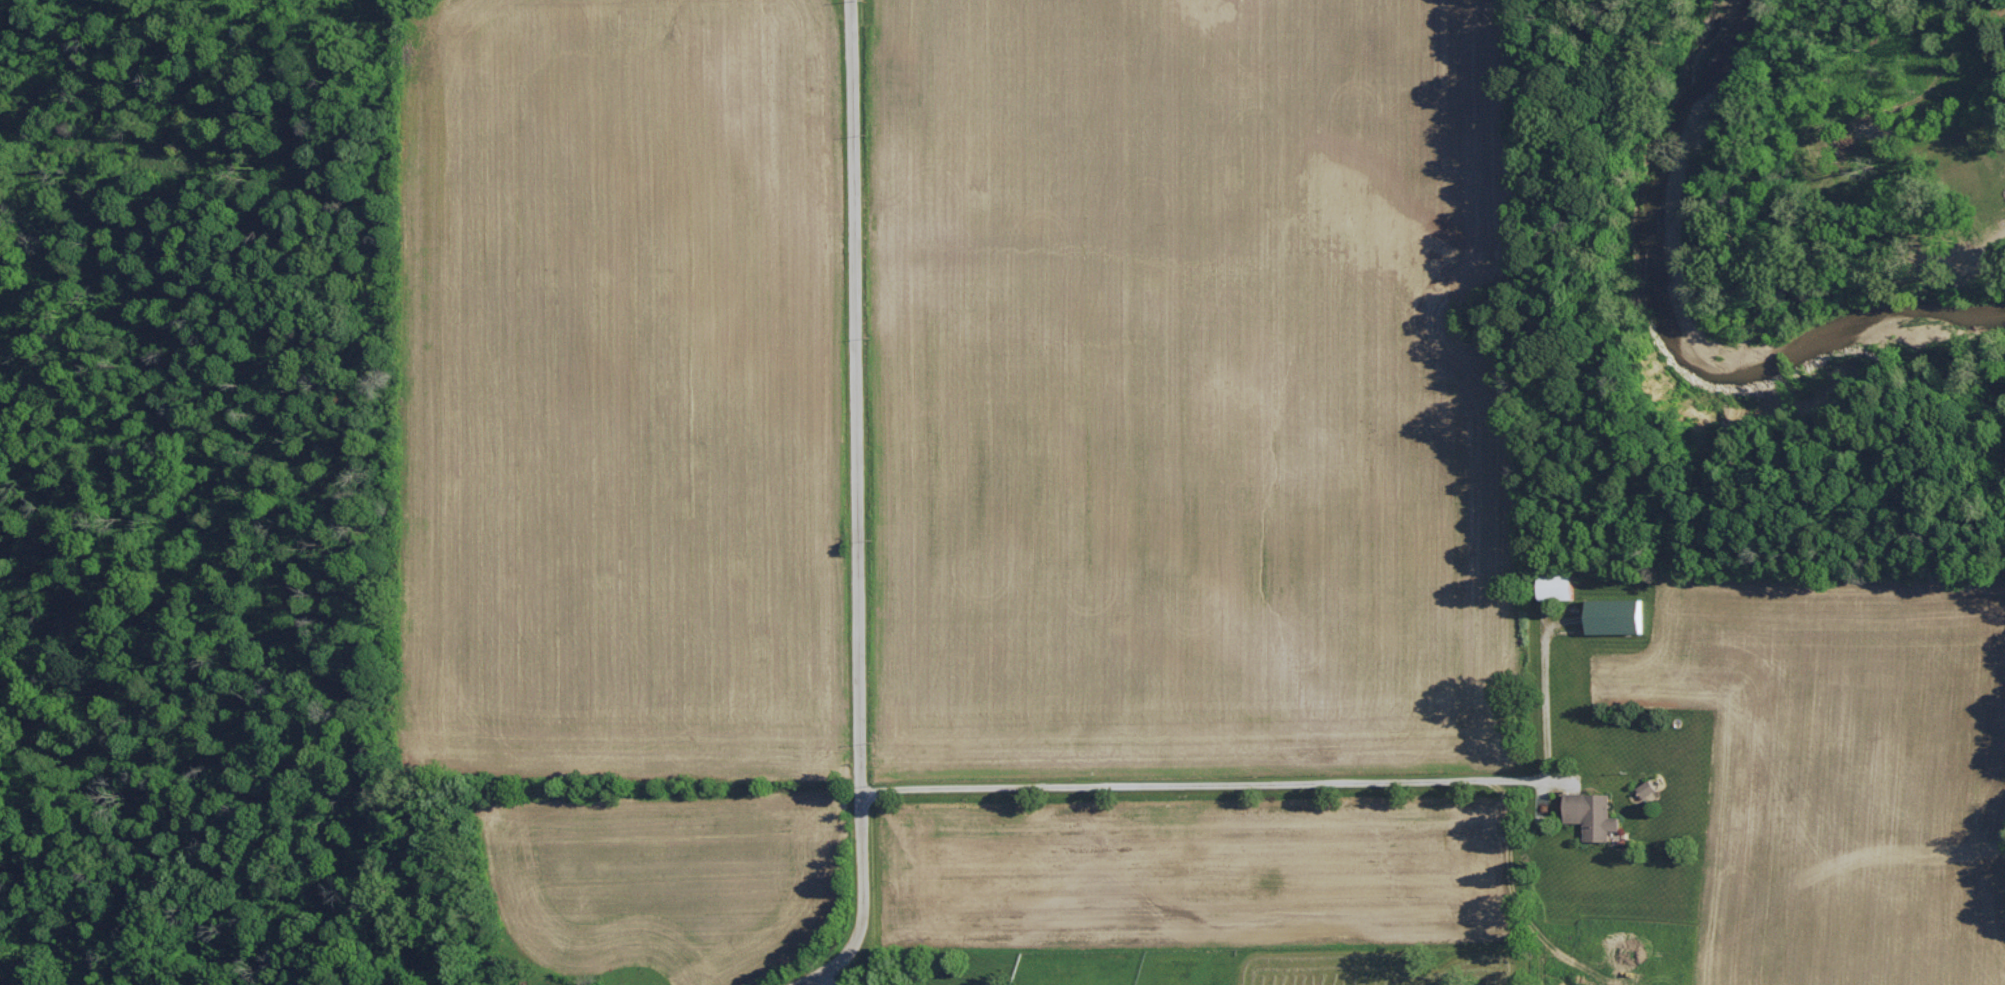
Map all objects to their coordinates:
road: (859, 506)
building: (1557, 585)
building: (1615, 615)
road: (1276, 782)
building: (1647, 787)
building: (1600, 816)
road: (825, 979)

